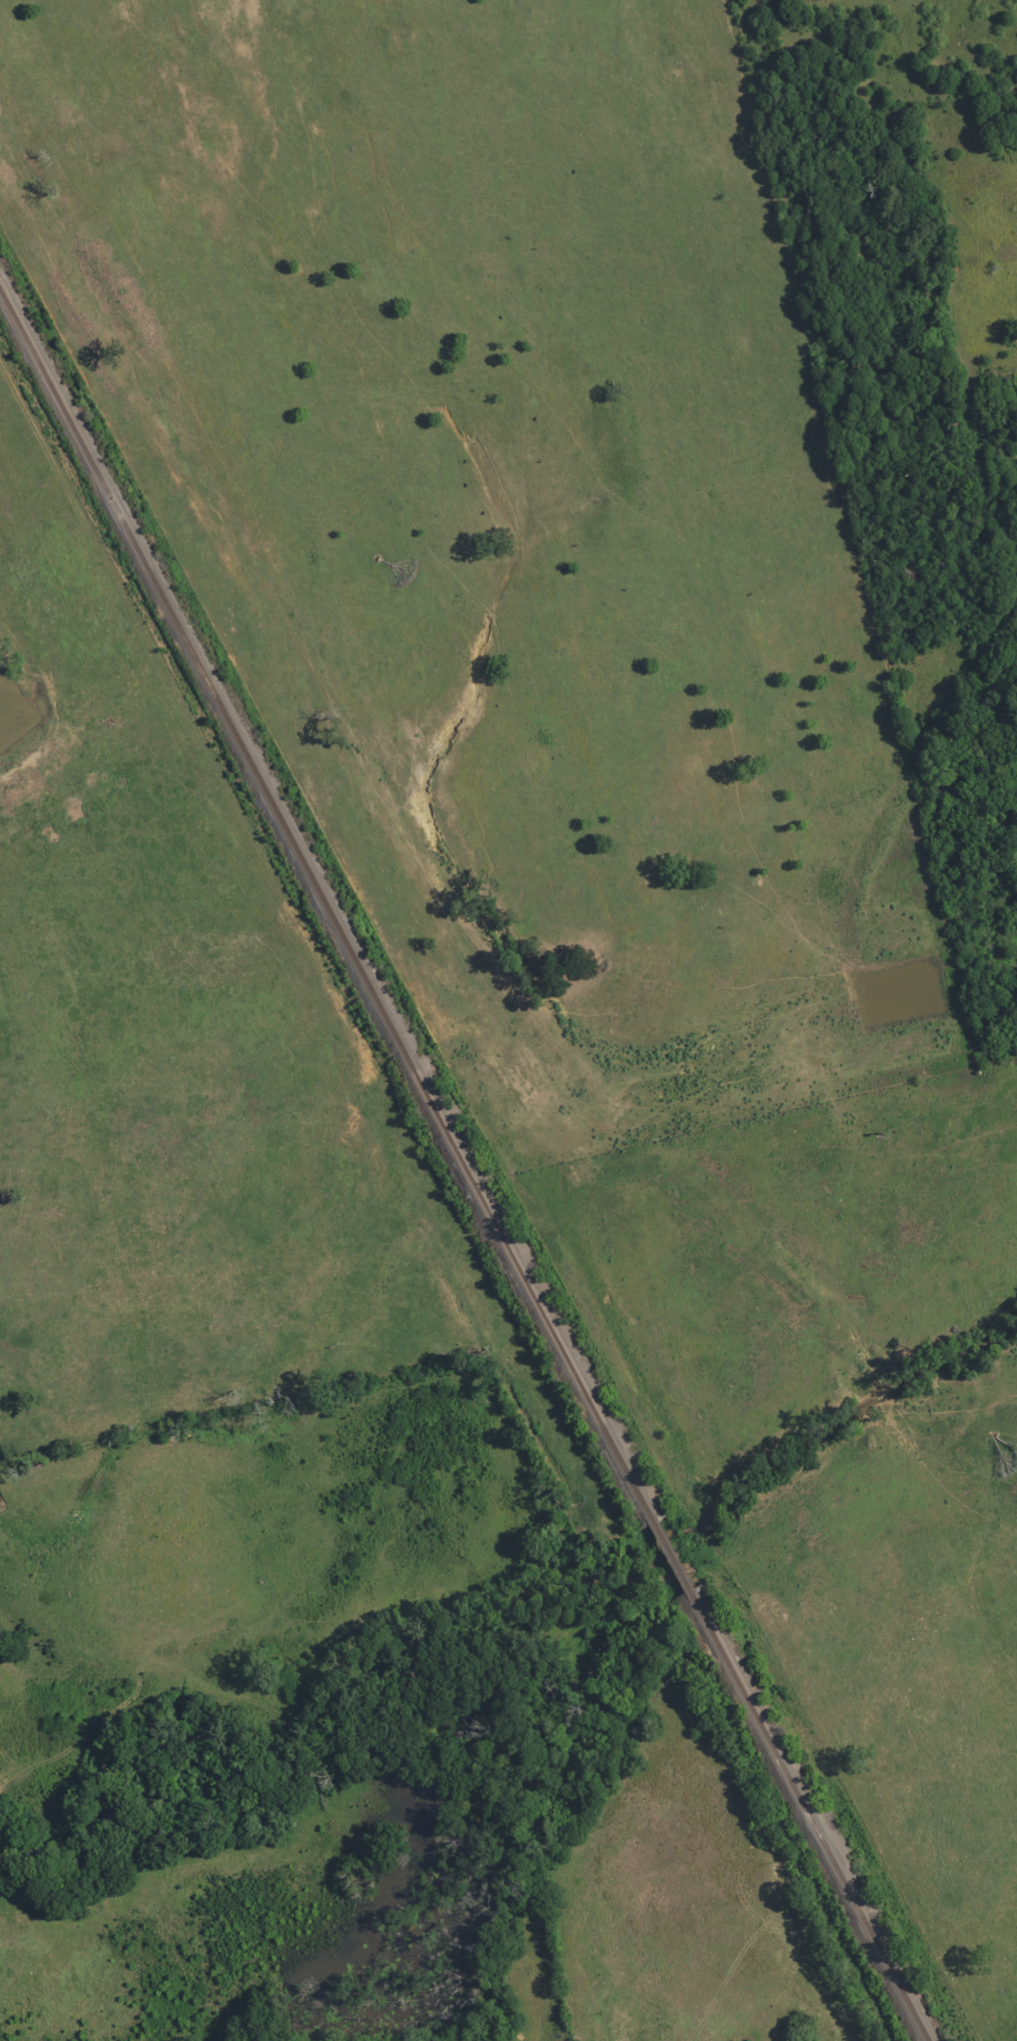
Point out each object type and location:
railway: (322, 908)
railway: (665, 1558)
railway: (805, 1817)

